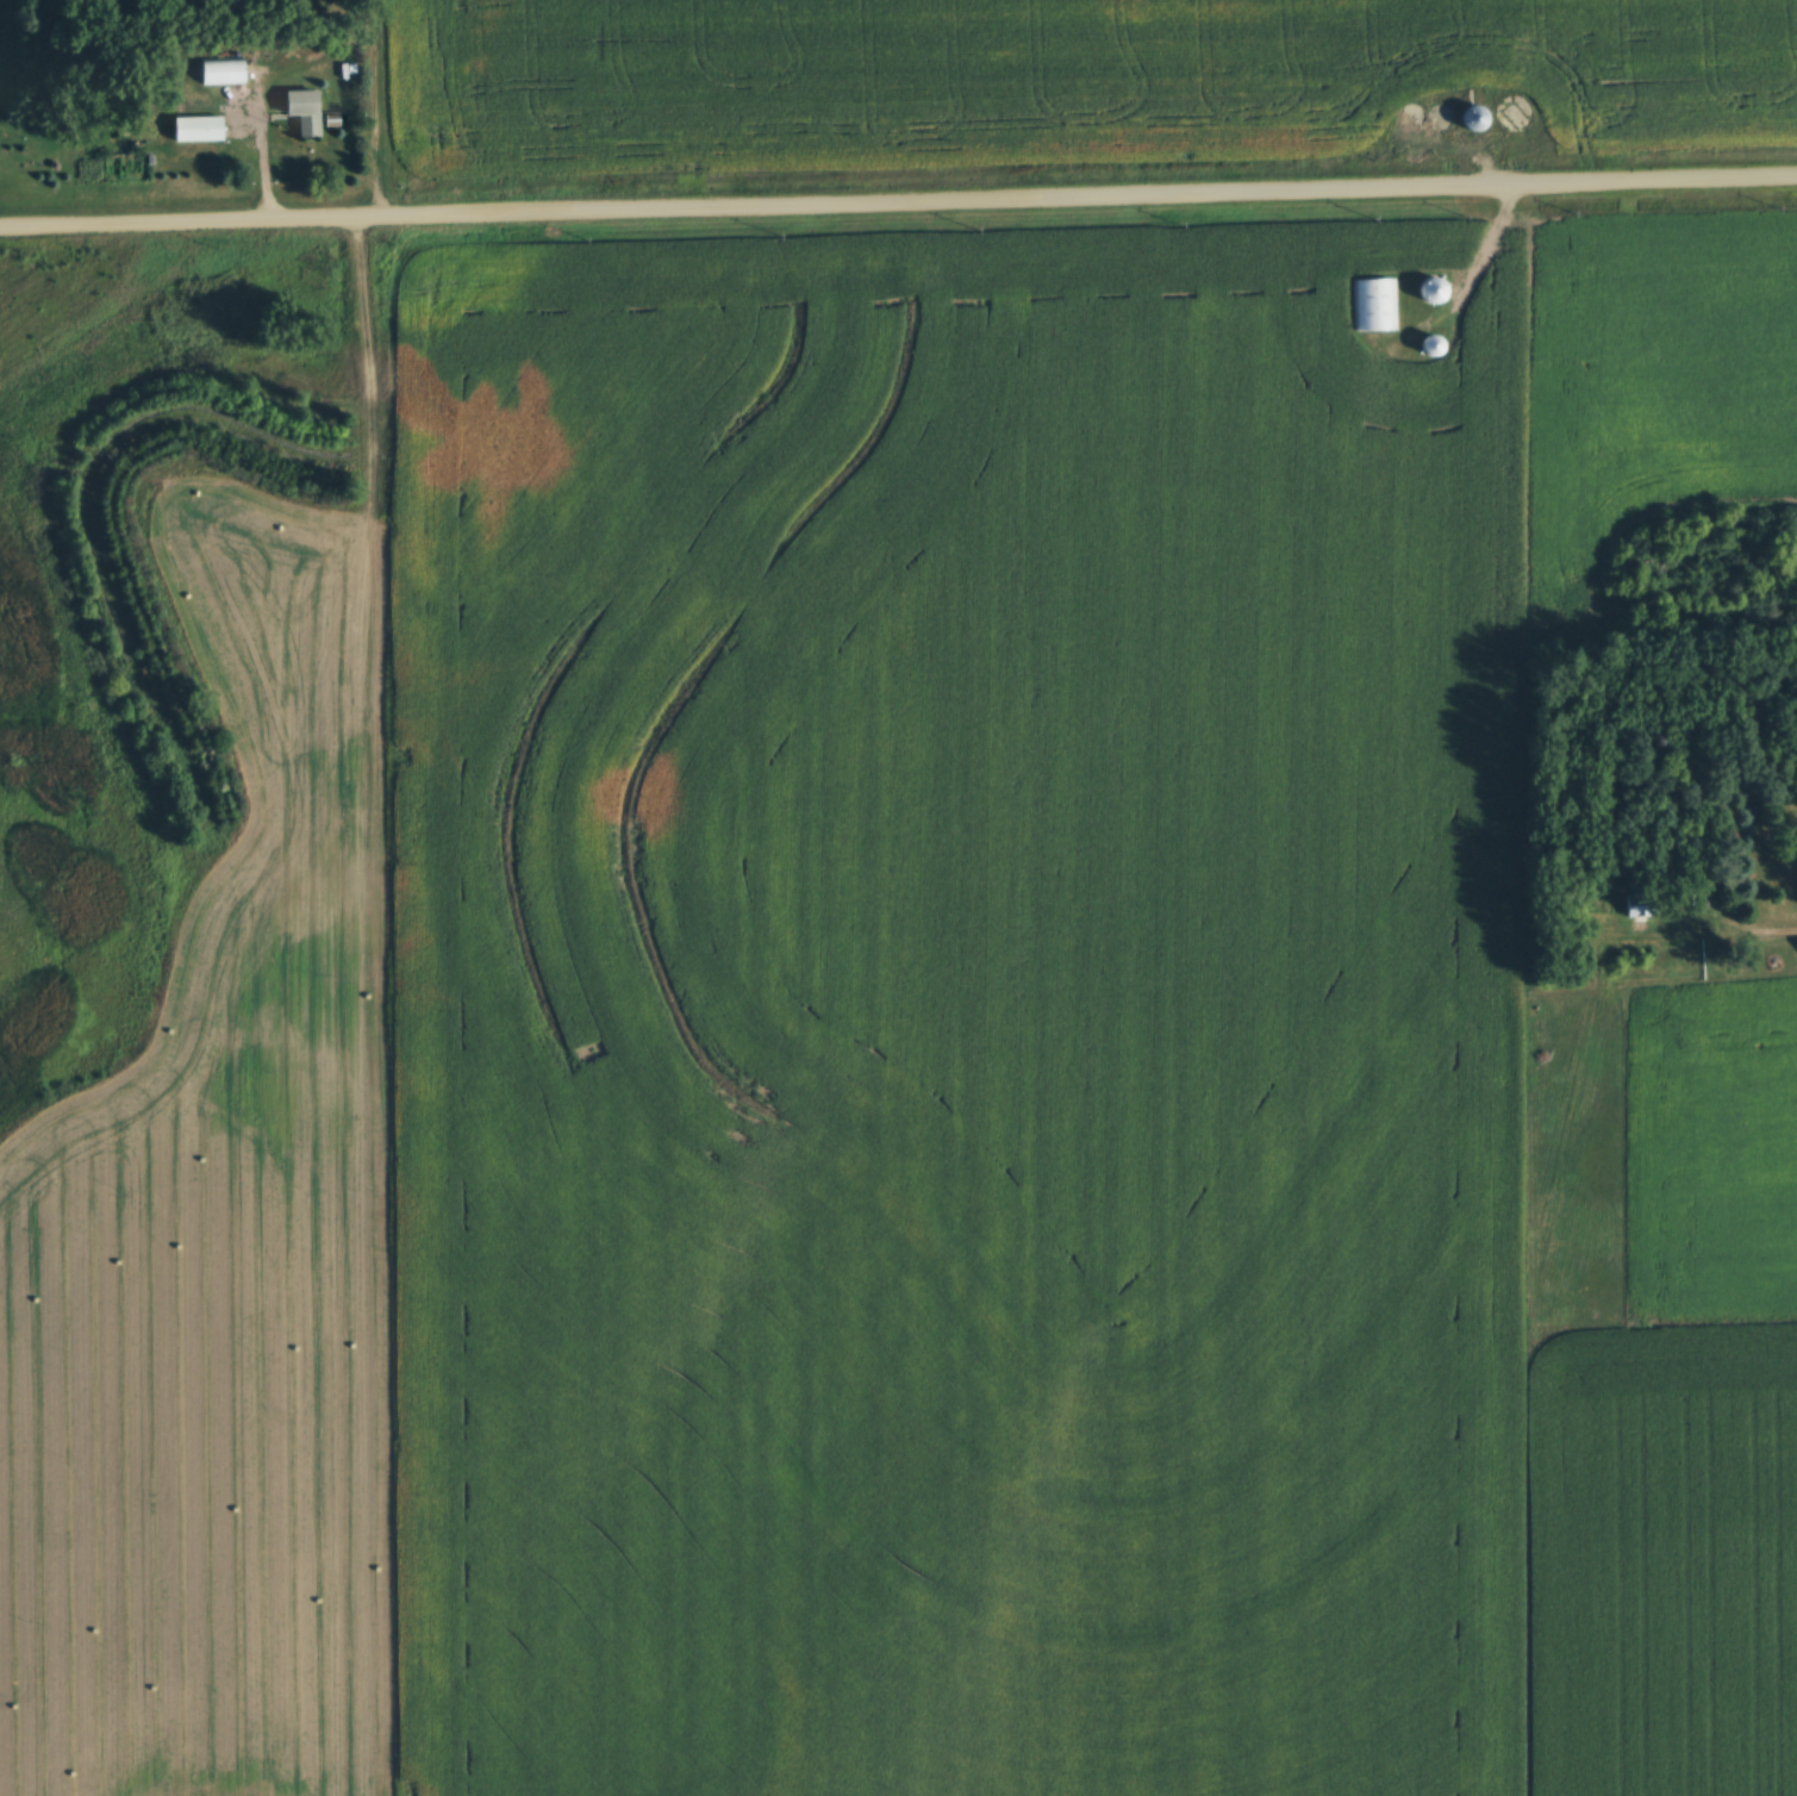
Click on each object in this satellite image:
building: (219, 70)
building: (301, 111)
building: (1471, 119)
building: (194, 129)
road: (898, 200)
building: (1429, 289)
building: (1374, 305)
building: (1430, 344)
building: (1643, 903)

